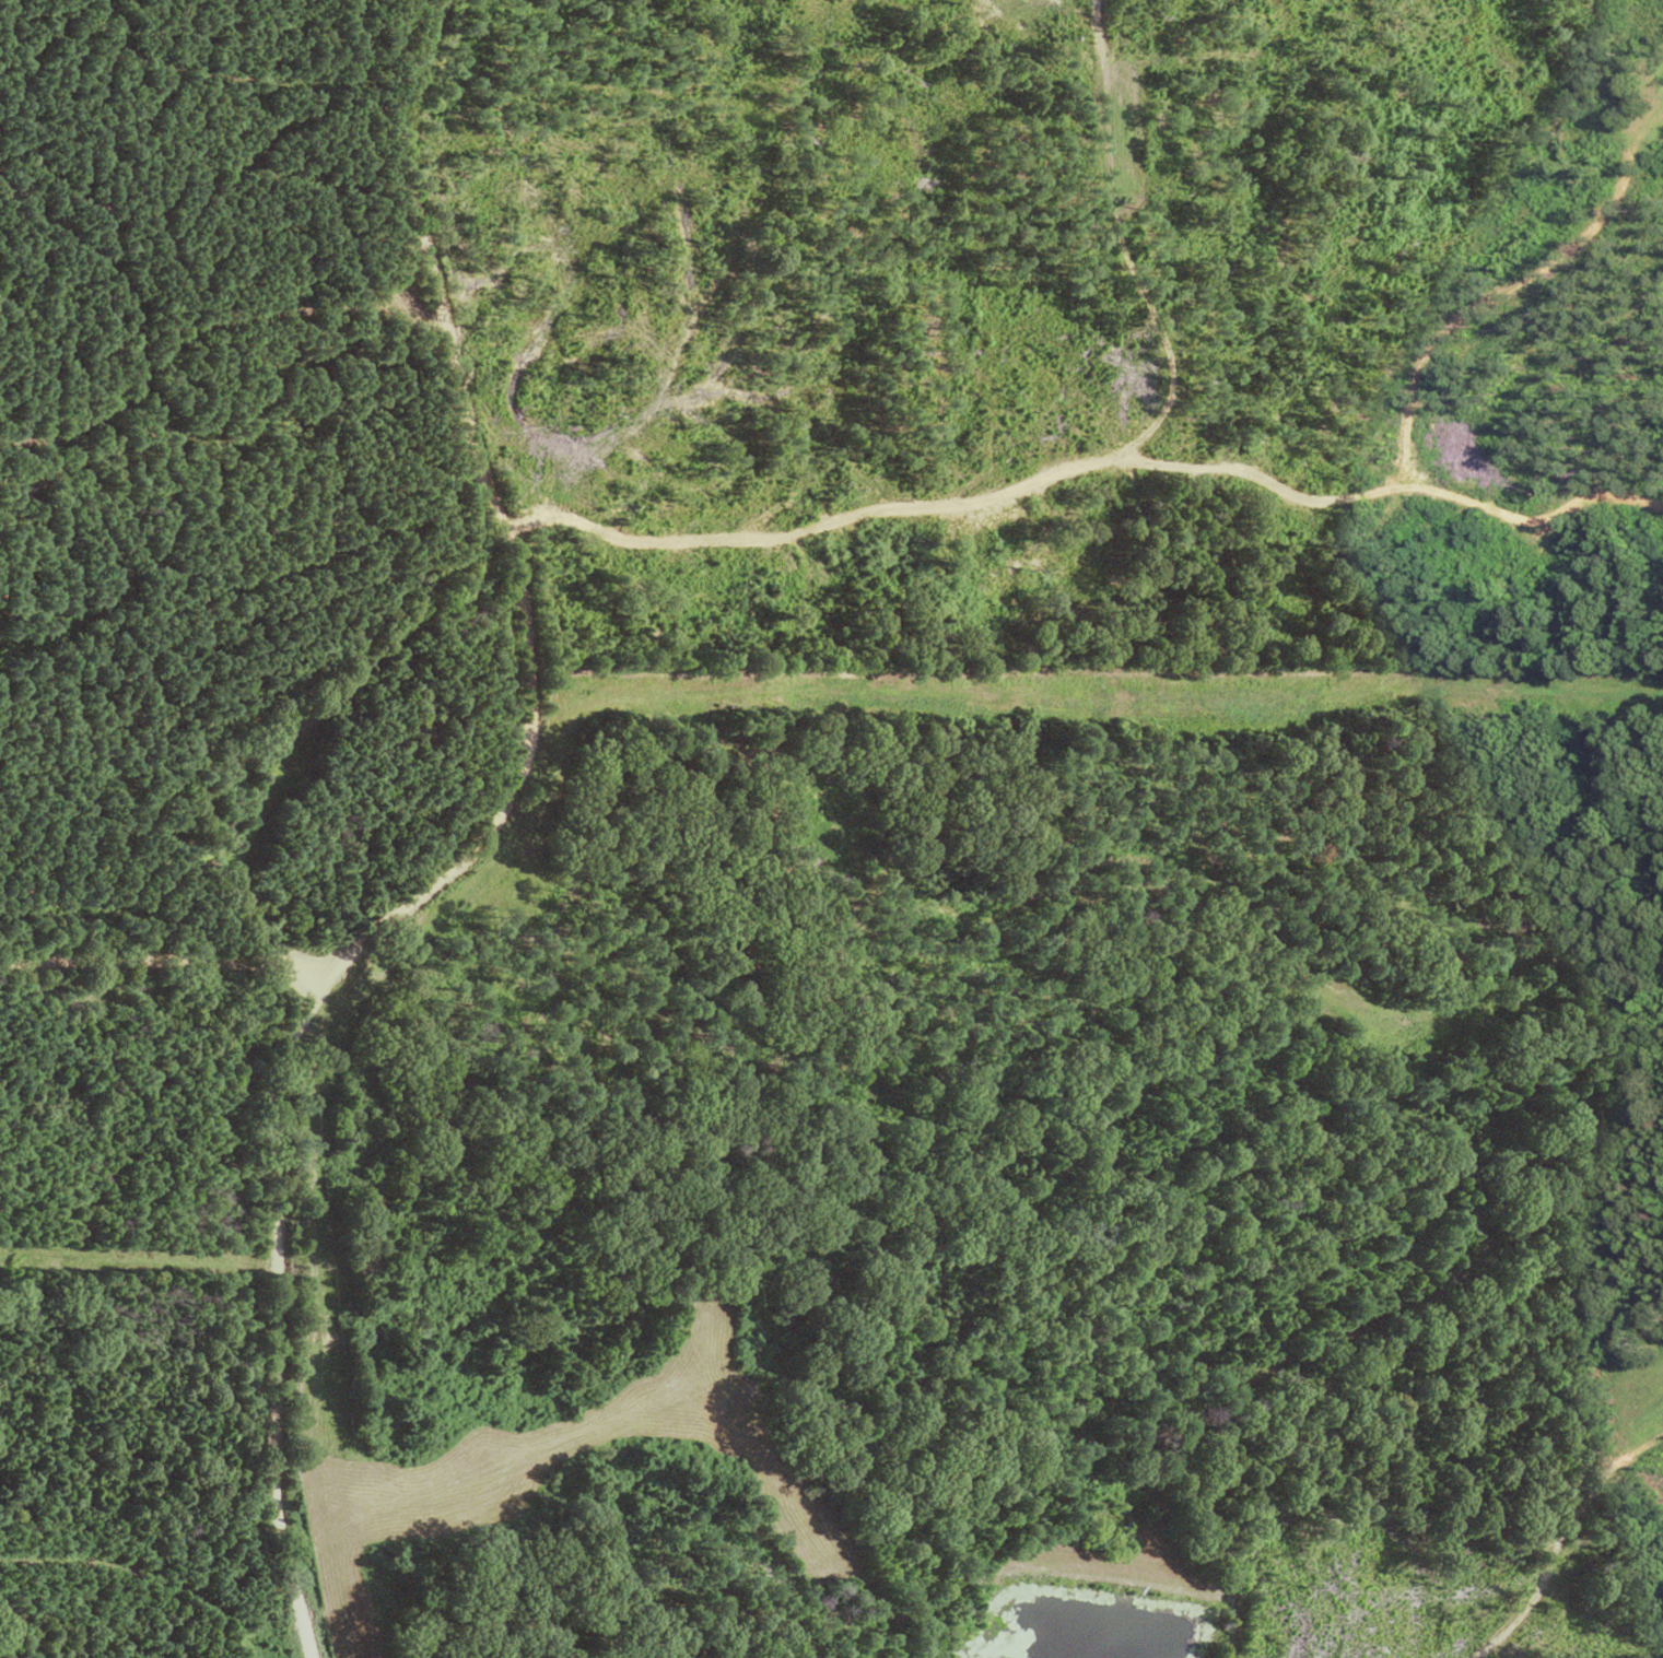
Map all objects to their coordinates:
road: (467, 850)
road: (161, 963)

